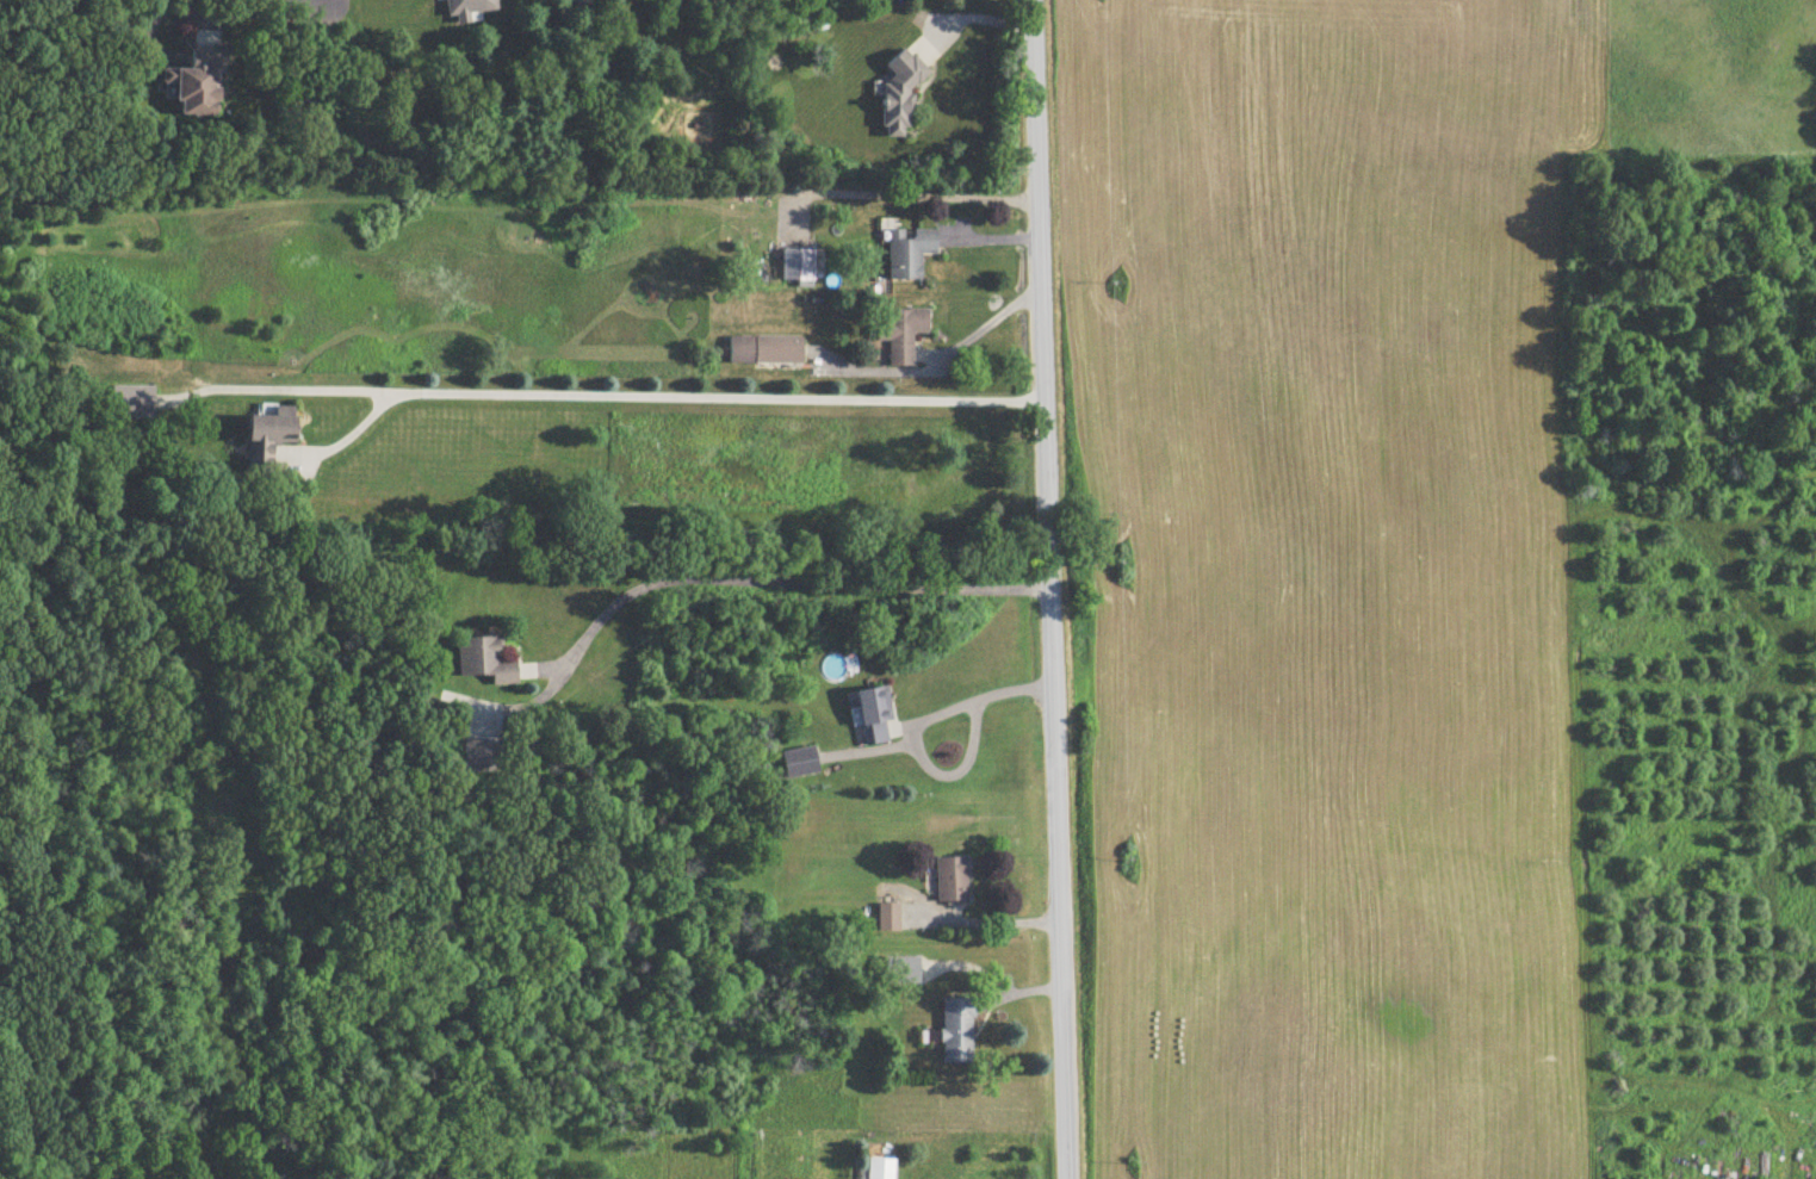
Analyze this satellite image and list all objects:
building: (438, 0)
building: (579, 4)
road: (242, 7)
building: (470, 10)
road: (971, 19)
building: (198, 86)
building: (901, 95)
road: (909, 198)
building: (910, 253)
building: (799, 267)
road: (983, 329)
building: (903, 336)
building: (767, 352)
road: (295, 393)
road: (658, 397)
building: (132, 403)
building: (268, 435)
building: (940, 530)
road: (779, 582)
road: (1050, 589)
building: (485, 660)
building: (874, 714)
road: (911, 730)
building: (482, 756)
building: (800, 763)
building: (953, 880)
building: (887, 918)
road: (981, 923)
building: (900, 970)
road: (994, 976)
building: (957, 1030)
building: (880, 1168)

